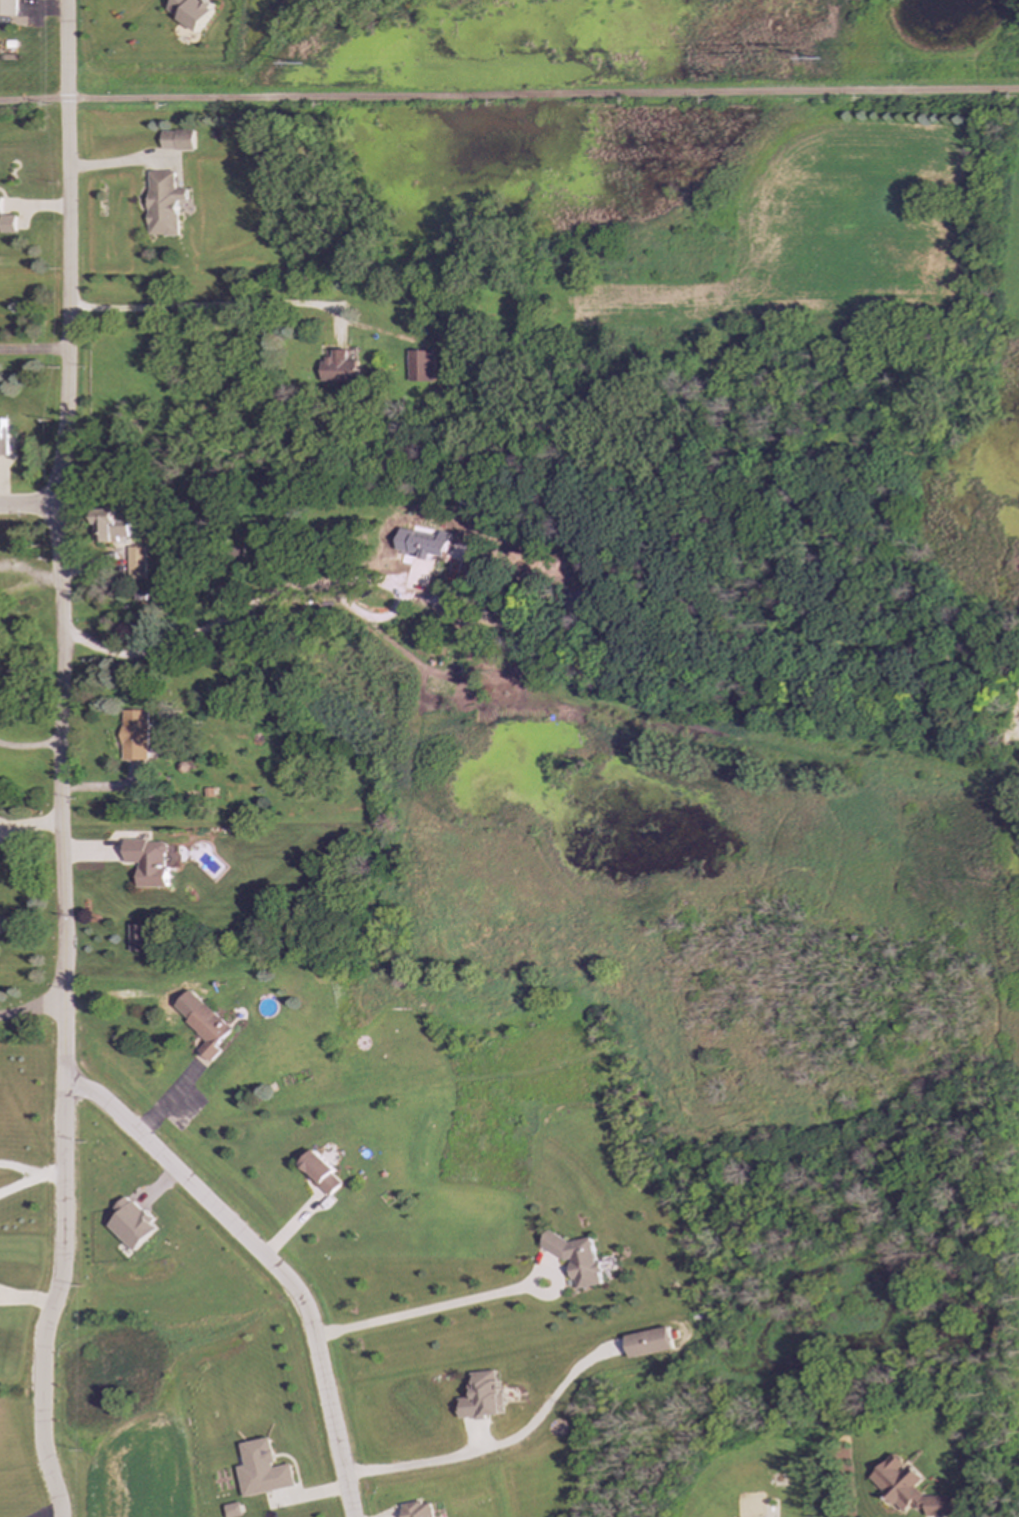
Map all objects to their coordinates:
building: (8, 8)
building: (193, 11)
power tower: (896, 61)
power tower: (444, 65)
road: (509, 92)
building: (178, 140)
road: (120, 162)
building: (164, 204)
building: (0, 205)
building: (7, 224)
road: (216, 305)
road: (32, 350)
building: (418, 366)
building: (338, 369)
building: (3, 437)
road: (30, 506)
building: (111, 527)
building: (422, 544)
road: (282, 591)
building: (584, 601)
building: (135, 735)
road: (29, 746)
road: (59, 761)
road: (30, 822)
building: (148, 862)
building: (139, 938)
road: (30, 1008)
building: (205, 1024)
road: (166, 1099)
building: (321, 1172)
road: (29, 1176)
building: (133, 1224)
road: (291, 1226)
road: (269, 1259)
building: (580, 1259)
road: (27, 1299)
road: (435, 1308)
building: (649, 1343)
building: (483, 1396)
road: (499, 1443)
building: (265, 1469)
building: (910, 1490)
building: (418, 1509)
building: (235, 1510)
road: (50, 1514)

